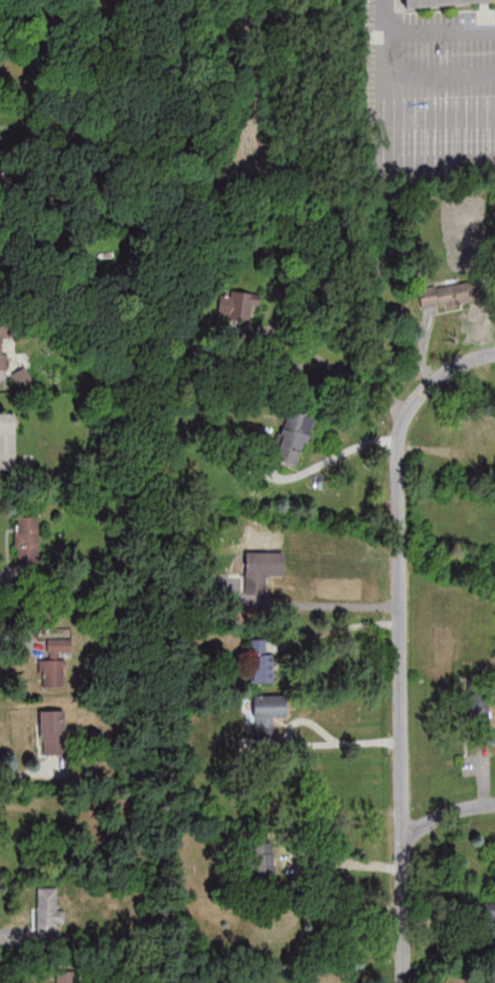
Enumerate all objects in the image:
building: (439, 4)
road: (441, 32)
road: (441, 78)
road: (386, 123)
building: (258, 240)
building: (462, 292)
building: (236, 305)
building: (327, 319)
building: (2, 342)
road: (290, 368)
road: (414, 406)
building: (293, 437)
building: (7, 440)
road: (334, 458)
road: (397, 536)
building: (26, 538)
building: (260, 574)
road: (337, 604)
road: (344, 627)
road: (14, 642)
building: (260, 660)
building: (55, 664)
building: (266, 713)
building: (51, 731)
road: (312, 745)
road: (25, 774)
road: (402, 776)
building: (266, 797)
road: (446, 817)
road: (345, 860)
building: (261, 863)
building: (47, 914)
building: (488, 920)
road: (12, 933)
building: (271, 940)
building: (65, 982)

